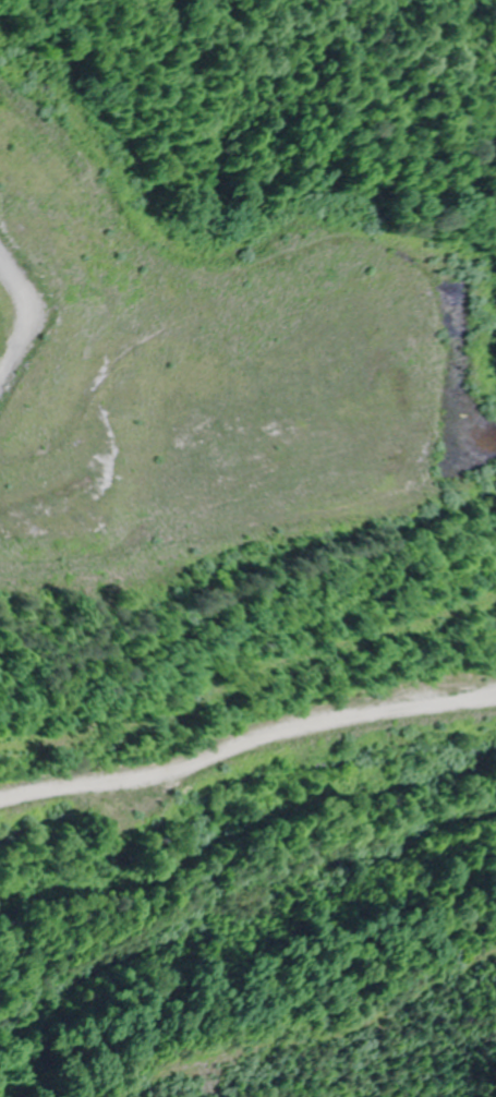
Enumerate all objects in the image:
road: (226, 662)

